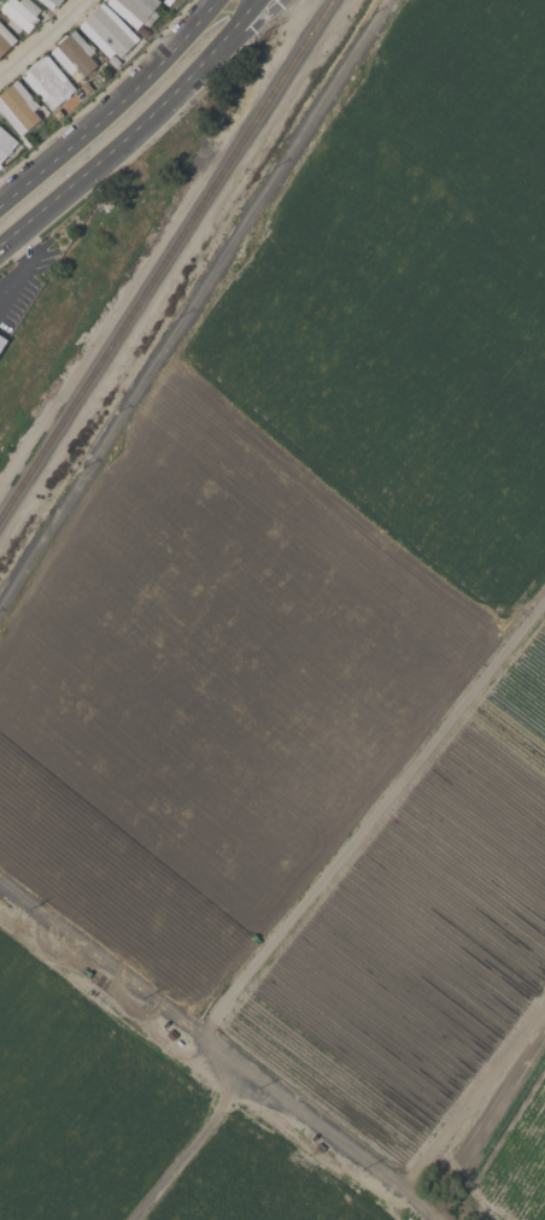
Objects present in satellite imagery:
building: (49, 2)
building: (135, 10)
building: (20, 14)
road: (257, 24)
building: (107, 31)
road: (41, 36)
building: (5, 40)
building: (74, 55)
building: (47, 82)
road: (98, 93)
road: (111, 106)
building: (18, 108)
road: (134, 129)
building: (5, 143)
building: (0, 169)
road: (2, 194)
railway: (164, 257)
road: (24, 260)
building: (1, 341)
crop: (300, 690)
road: (368, 816)
road: (121, 985)
road: (186, 1148)
road: (338, 1148)

